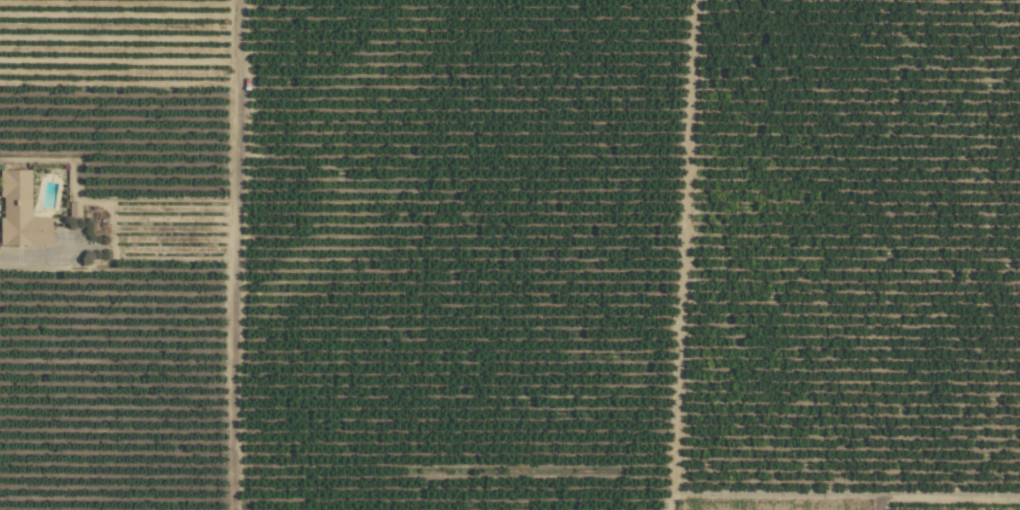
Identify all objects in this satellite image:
building: (19, 212)

